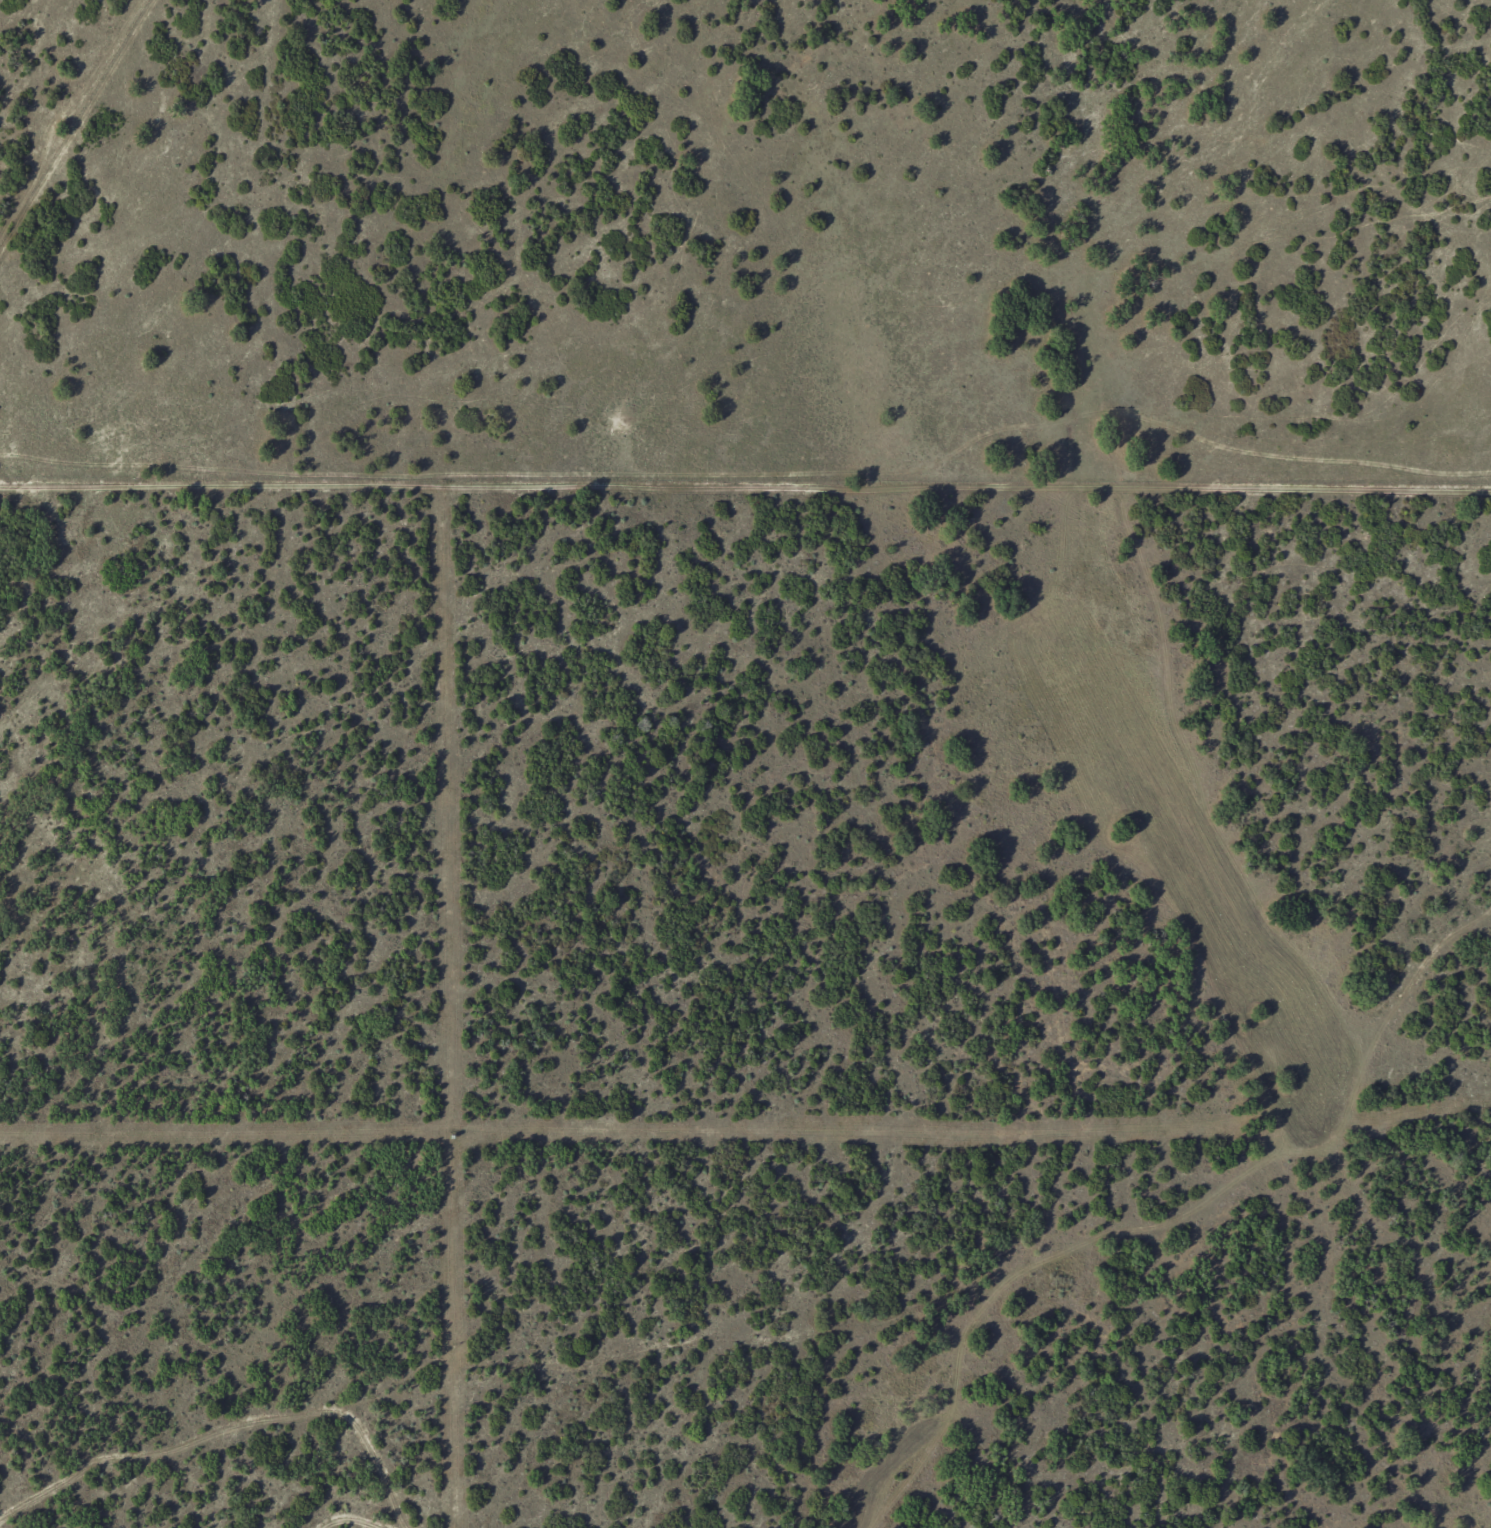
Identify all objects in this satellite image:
road: (197, 1452)

